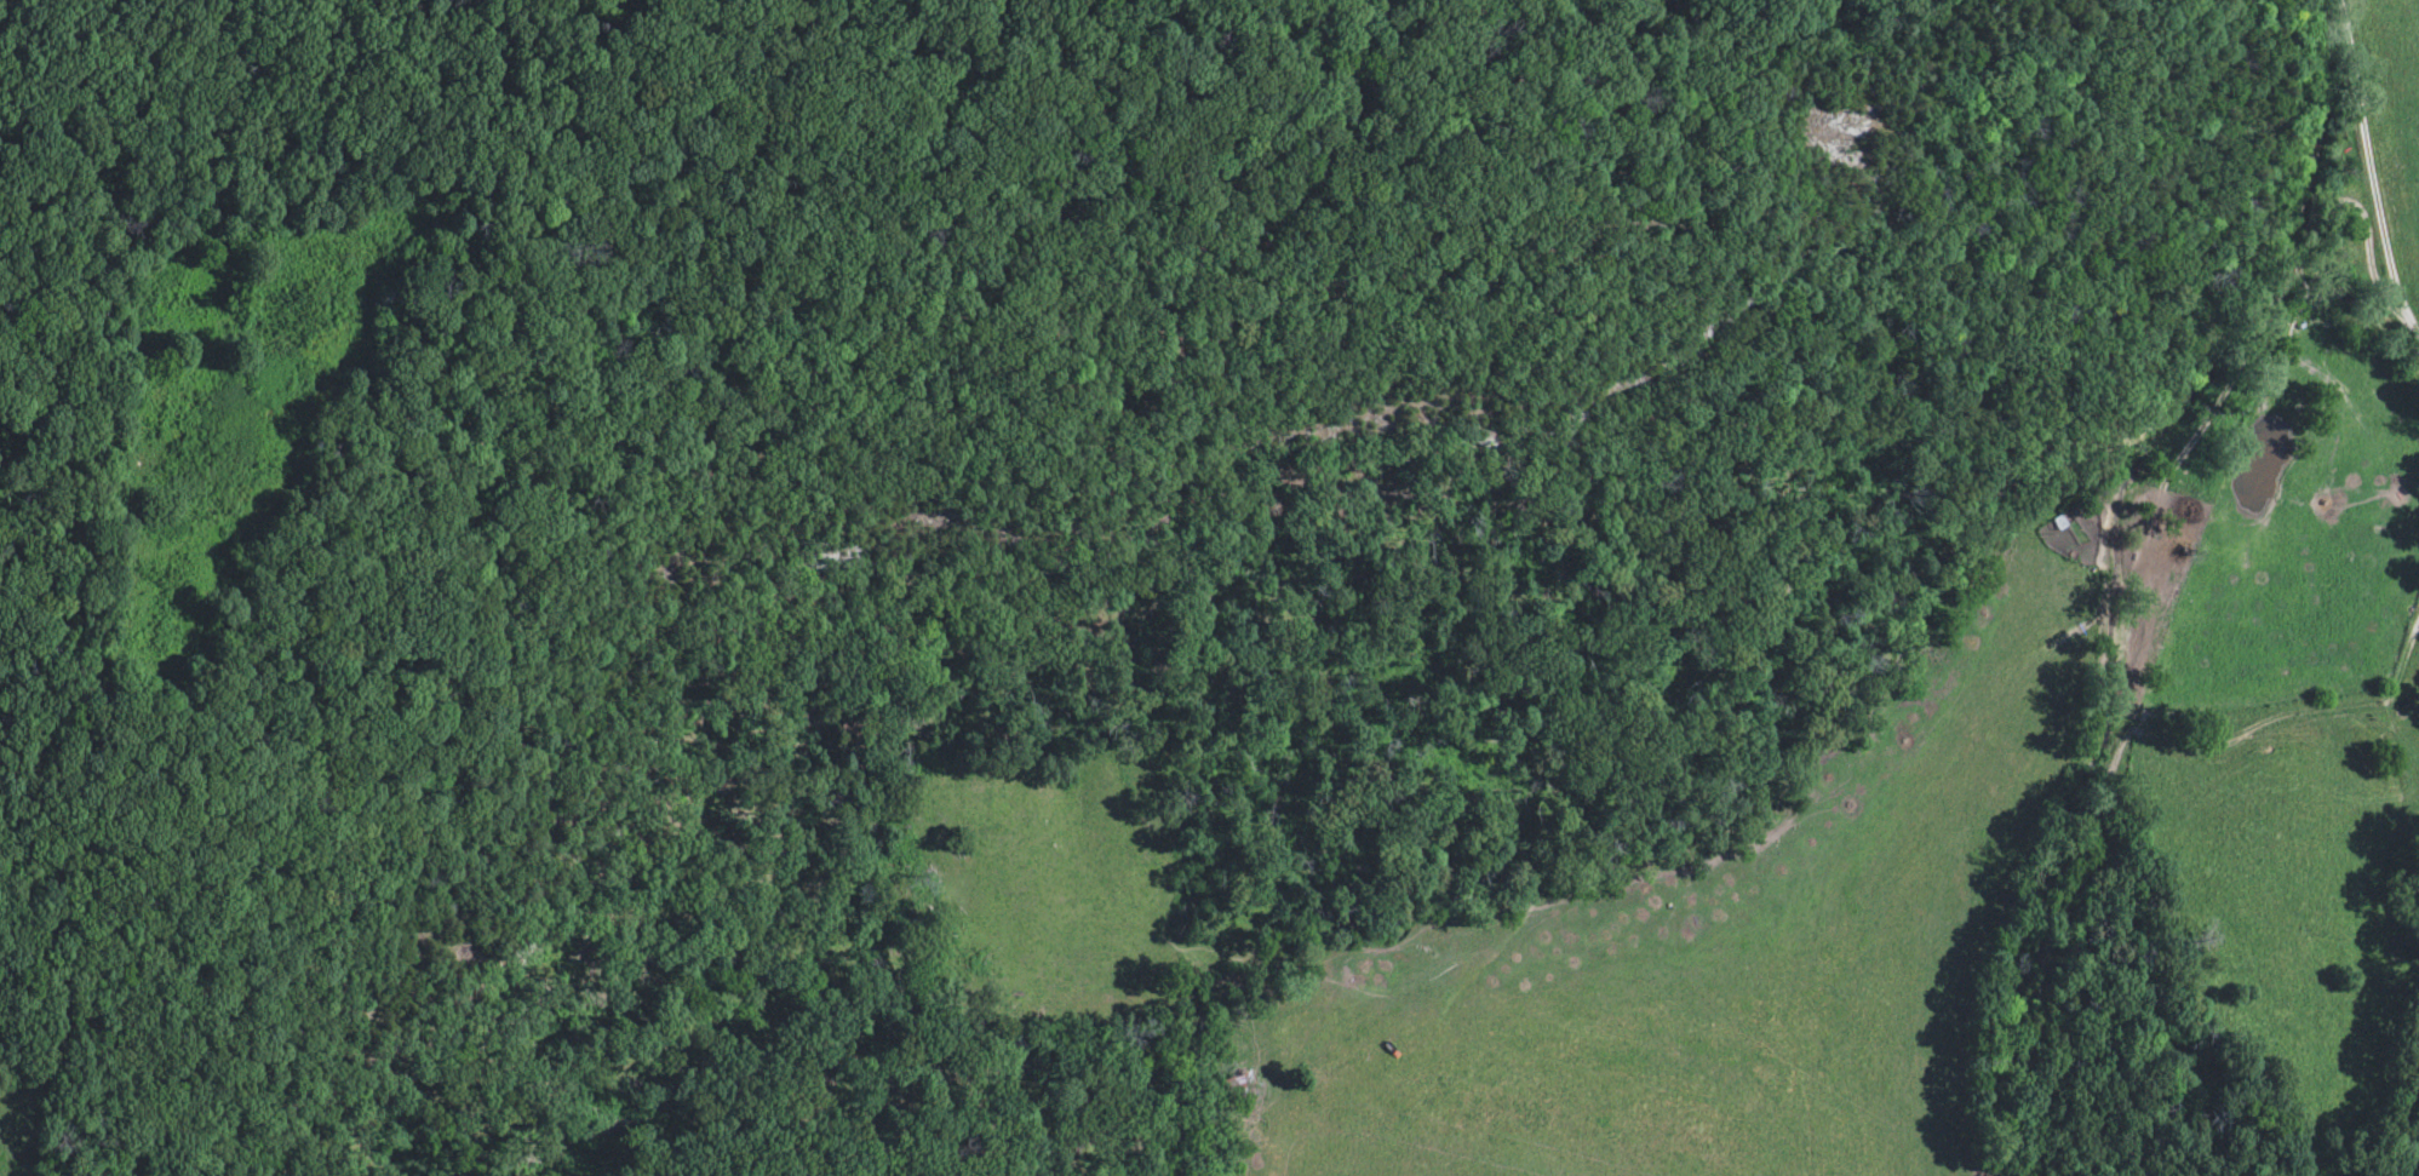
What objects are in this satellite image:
road: (2374, 168)
road: (2265, 335)

